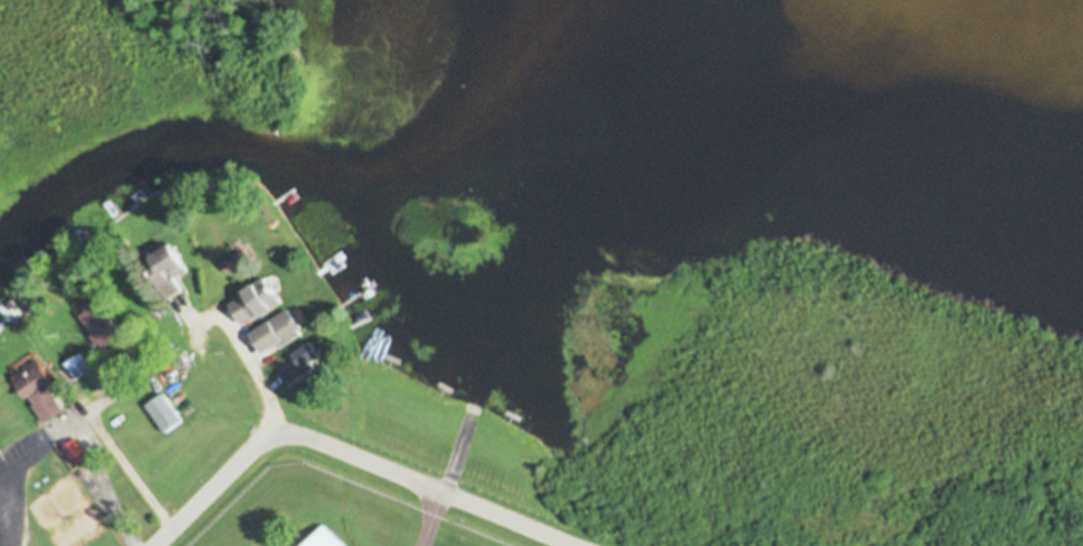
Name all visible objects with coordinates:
river: (499, 155)
building: (171, 265)
building: (255, 301)
building: (154, 309)
building: (102, 324)
building: (278, 332)
building: (302, 362)
building: (40, 386)
road: (251, 386)
building: (11, 413)
airport: (710, 432)
road: (88, 442)
building: (76, 451)
road: (349, 454)
road: (130, 468)
airport taxiway: (452, 475)
airport hangar: (328, 538)
building: (328, 538)

